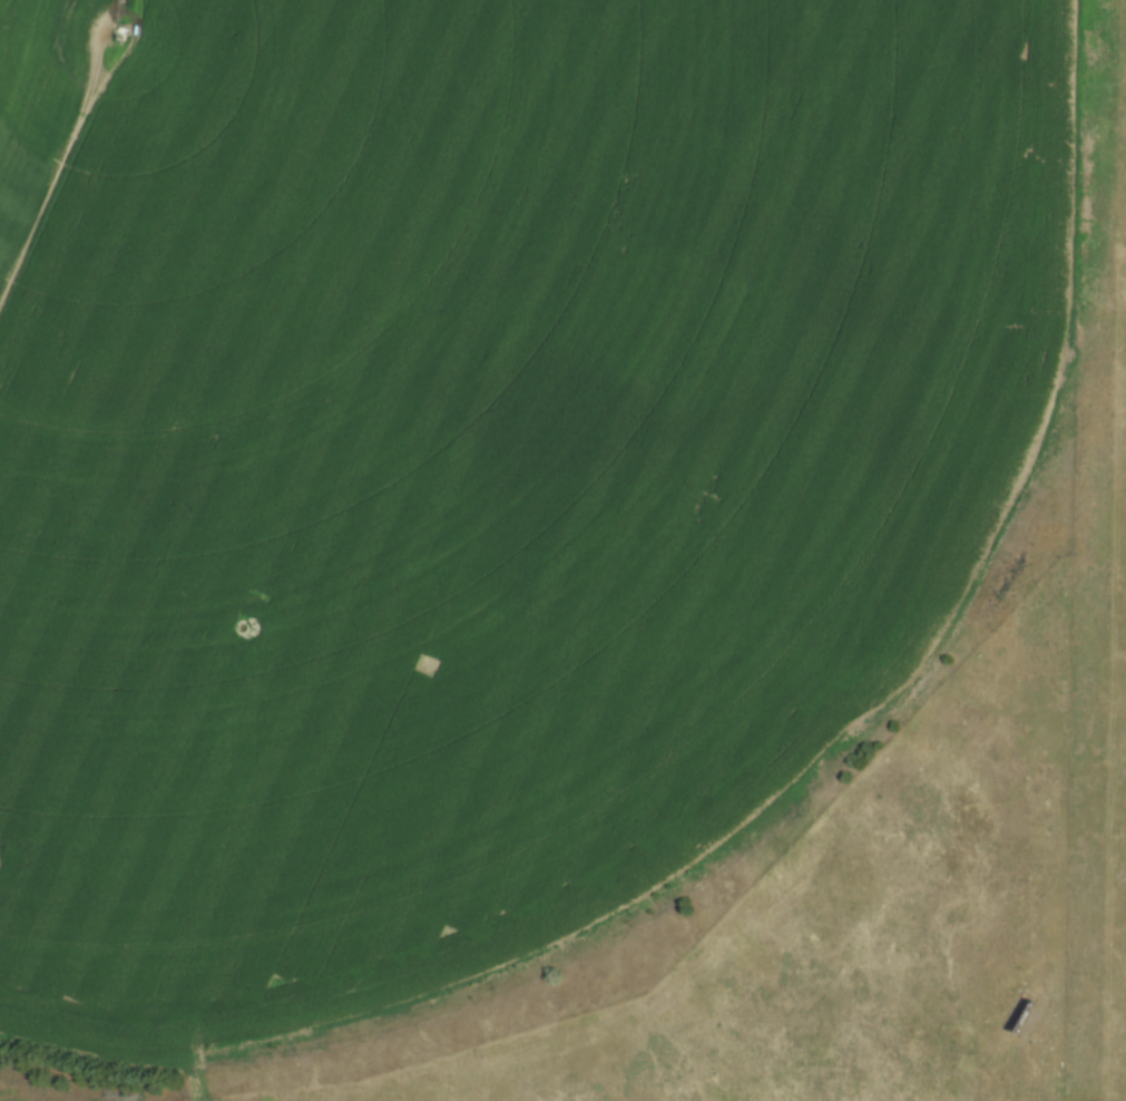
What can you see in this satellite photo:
crop: (478, 455)

